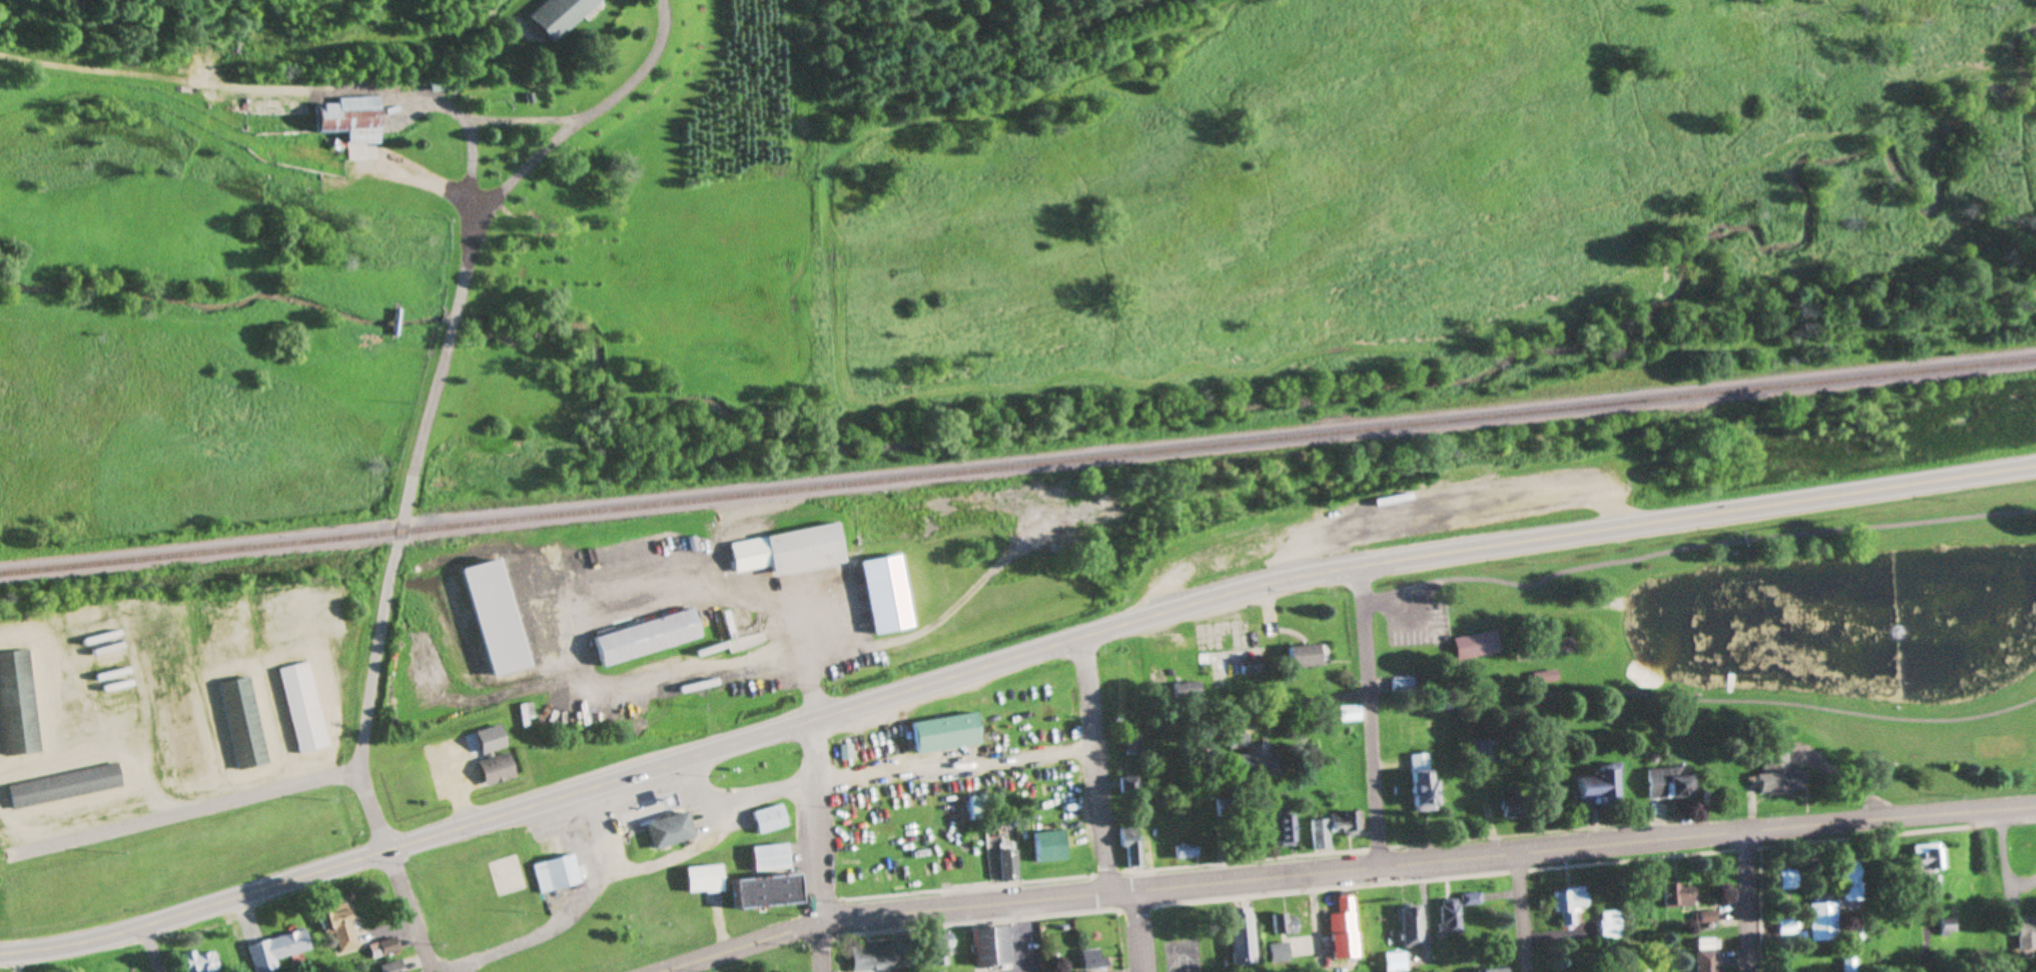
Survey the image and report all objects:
building: (562, 17)
road: (184, 84)
building: (441, 86)
road: (596, 117)
road: (478, 121)
building: (353, 123)
road: (477, 166)
road: (440, 382)
railway: (1018, 467)
road: (1700, 516)
road: (1457, 522)
building: (806, 550)
building: (888, 594)
parking lot: (1418, 615)
park: (1758, 632)
building: (648, 637)
building: (1478, 646)
building: (1306, 656)
road: (582, 657)
building: (1239, 663)
building: (111, 664)
building: (1547, 678)
building: (1402, 685)
building: (1189, 692)
road: (1349, 698)
road: (1732, 701)
road: (371, 703)
building: (18, 705)
building: (305, 708)
building: (1348, 714)
road: (1370, 716)
building: (245, 724)
building: (949, 733)
building: (1137, 741)
building: (1252, 750)
building: (1482, 752)
road: (683, 761)
road: (1100, 766)
building: (1778, 770)
building: (496, 771)
building: (1423, 783)
building: (1668, 783)
building: (66, 787)
building: (1599, 787)
building: (1131, 789)
building: (1514, 806)
building: (983, 808)
road: (187, 814)
building: (773, 819)
building: (1348, 822)
building: (672, 830)
building: (1286, 830)
building: (1323, 834)
building: (1135, 845)
road: (824, 846)
building: (1053, 847)
building: (1189, 852)
building: (773, 857)
building: (1926, 860)
building: (1012, 863)
road: (1347, 869)
building: (558, 874)
building: (1851, 877)
building: (707, 879)
building: (1789, 880)
building: (769, 891)
building: (1679, 895)
park: (596, 898)
building: (1471, 899)
road: (1749, 901)
building: (1571, 905)
road: (414, 911)
building: (1350, 912)
road: (1525, 912)
building: (1452, 916)
building: (1824, 921)
building: (1284, 922)
road: (1318, 923)
building: (1611, 925)
building: (342, 926)
building: (1414, 927)
building: (1948, 927)
road: (1144, 931)
building: (2028, 933)
building: (1244, 938)
building: (1350, 941)
building: (995, 947)
building: (385, 948)
road: (156, 949)
building: (278, 950)
building: (1282, 953)
building: (874, 958)
building: (1098, 958)
building: (200, 961)
building: (1708, 961)
road: (19, 962)
building: (1398, 962)
building: (394, 967)
building: (1496, 970)
building: (1645, 971)

